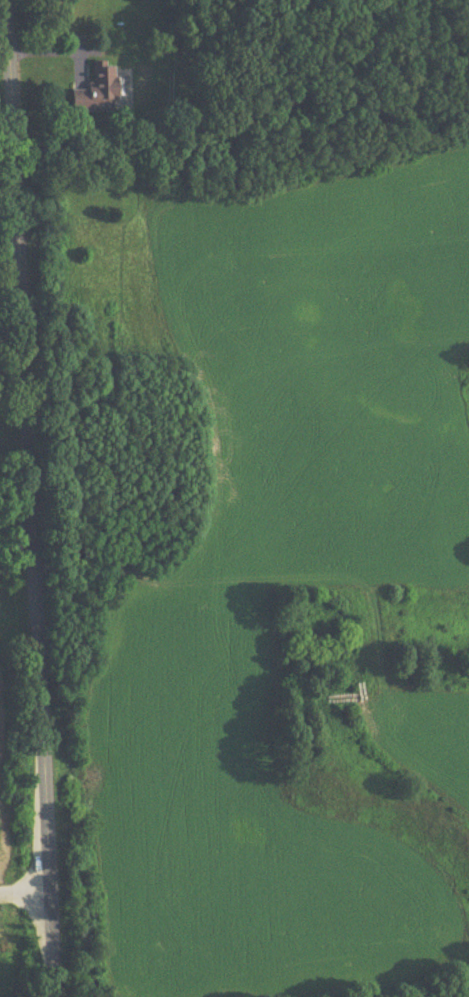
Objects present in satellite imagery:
building: (98, 92)
road: (38, 498)
road: (28, 894)

